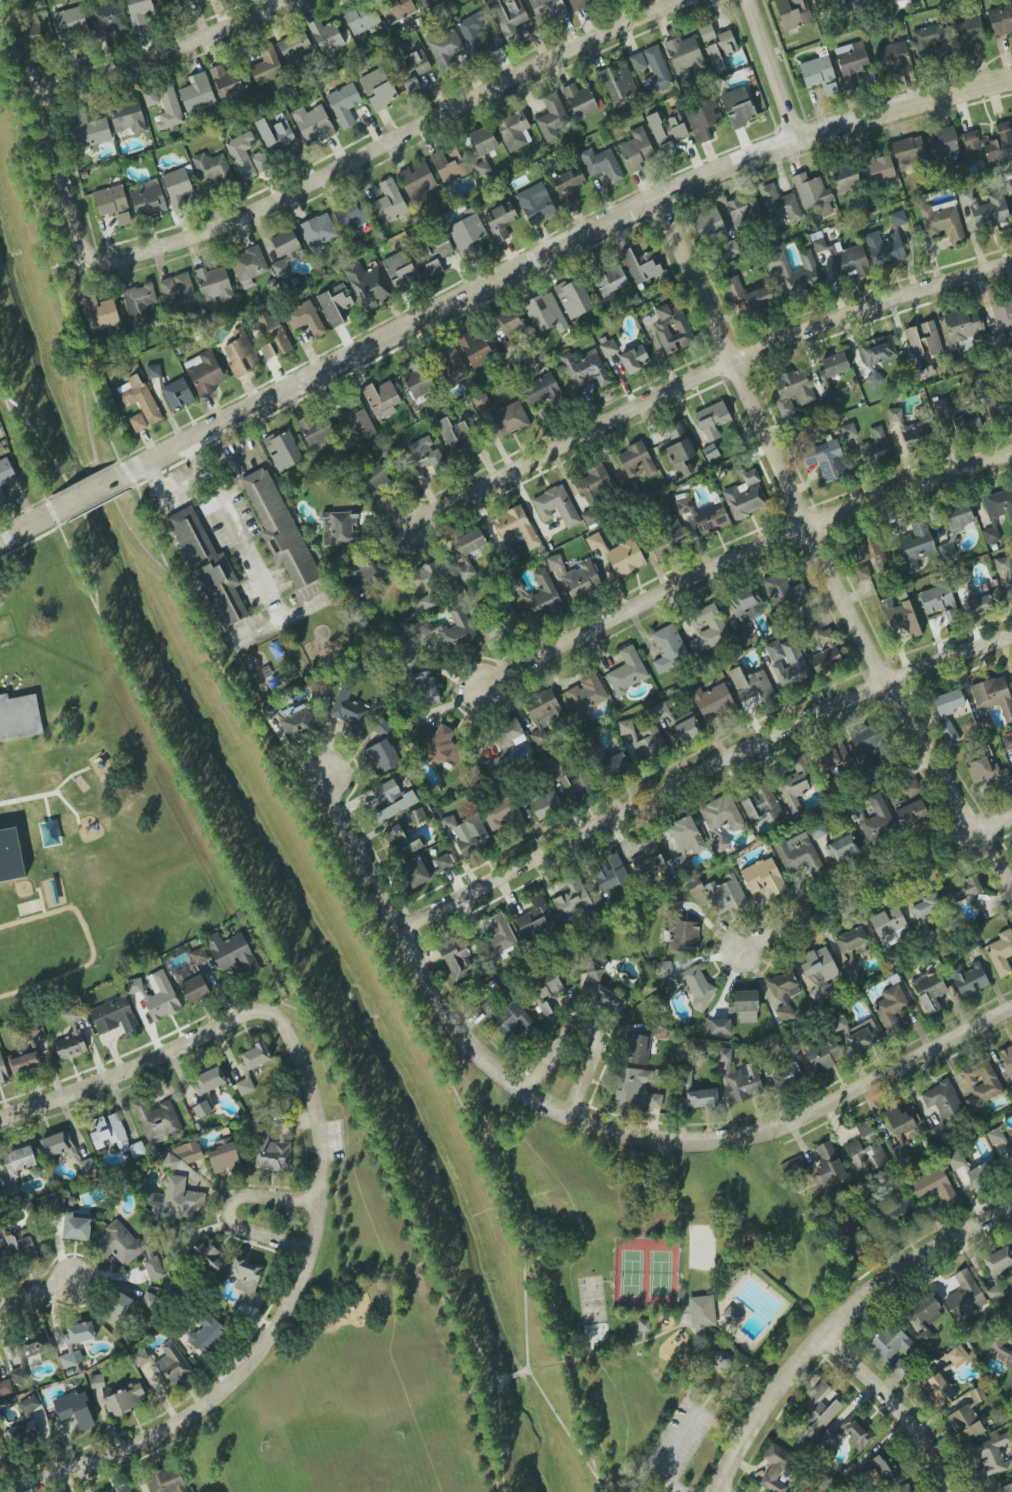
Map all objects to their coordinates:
building: (170, 1)
building: (894, 1)
building: (428, 3)
building: (581, 3)
building: (824, 3)
building: (863, 3)
building: (548, 8)
building: (396, 9)
building: (139, 11)
building: (793, 13)
building: (509, 17)
building: (361, 18)
building: (109, 19)
building: (1000, 20)
building: (69, 24)
building: (706, 33)
building: (967, 34)
building: (325, 36)
building: (477, 36)
building: (926, 39)
building: (28, 40)
road: (180, 46)
building: (295, 47)
building: (446, 51)
building: (721, 51)
building: (684, 56)
building: (892, 58)
building: (638, 62)
building: (853, 62)
building: (267, 66)
building: (413, 68)
road: (770, 70)
building: (656, 71)
building: (819, 74)
building: (226, 82)
building: (618, 82)
road: (9, 84)
building: (378, 89)
building: (197, 94)
building: (150, 97)
building: (579, 101)
building: (344, 104)
building: (737, 107)
building: (168, 110)
building: (128, 117)
building: (552, 117)
building: (702, 119)
building: (312, 124)
building: (88, 129)
building: (514, 131)
building: (666, 131)
building: (275, 134)
building: (483, 140)
building: (970, 140)
building: (943, 144)
building: (999, 145)
building: (636, 150)
building: (908, 150)
building: (242, 155)
building: (261, 162)
building: (449, 164)
building: (602, 164)
building: (876, 167)
building: (213, 168)
building: (482, 168)
building: (845, 177)
building: (417, 182)
building: (568, 185)
road: (307, 186)
building: (179, 187)
building: (812, 193)
road: (36, 197)
building: (148, 200)
building: (113, 203)
building: (389, 203)
building: (535, 204)
building: (779, 204)
building: (986, 208)
building: (742, 211)
building: (351, 215)
building: (500, 221)
building: (708, 222)
building: (942, 223)
building: (317, 231)
building: (467, 234)
building: (887, 244)
building: (819, 245)
building: (731, 247)
building: (285, 253)
road: (554, 253)
building: (436, 256)
building: (850, 262)
building: (640, 265)
building: (248, 266)
building: (401, 272)
building: (796, 273)
building: (608, 278)
building: (213, 285)
building: (367, 285)
building: (181, 292)
building: (747, 294)
building: (573, 297)
building: (139, 302)
building: (335, 304)
building: (99, 313)
building: (545, 313)
building: (1002, 315)
building: (305, 318)
building: (510, 323)
building: (963, 325)
building: (682, 327)
building: (272, 333)
building: (923, 339)
building: (475, 348)
building: (608, 348)
building: (267, 351)
building: (241, 353)
building: (957, 354)
building: (876, 356)
building: (634, 359)
building: (450, 363)
building: (834, 364)
building: (586, 368)
building: (153, 371)
building: (204, 373)
road: (702, 375)
building: (418, 379)
road: (88, 381)
building: (979, 381)
building: (542, 390)
building: (791, 391)
building: (177, 394)
building: (140, 398)
building: (381, 399)
building: (480, 401)
building: (999, 406)
building: (894, 414)
building: (712, 417)
building: (511, 418)
building: (138, 422)
building: (966, 422)
building: (354, 423)
building: (316, 430)
building: (848, 431)
building: (916, 435)
building: (875, 447)
building: (283, 450)
building: (679, 450)
building: (423, 453)
building: (710, 453)
building: (636, 460)
building: (825, 460)
road: (101, 474)
building: (5, 477)
building: (373, 478)
road: (194, 482)
building: (593, 484)
road: (88, 493)
building: (745, 496)
road: (77, 507)
building: (556, 507)
road: (532, 512)
building: (997, 512)
building: (703, 516)
building: (957, 517)
road: (29, 523)
building: (279, 527)
building: (515, 527)
building: (342, 529)
road: (234, 531)
building: (668, 536)
building: (915, 546)
road: (819, 551)
building: (869, 551)
building: (947, 551)
building: (619, 554)
road: (739, 556)
building: (1001, 564)
building: (209, 569)
building: (367, 569)
building: (862, 573)
building: (577, 577)
building: (434, 581)
building: (1010, 586)
building: (783, 592)
building: (535, 596)
building: (936, 599)
building: (982, 600)
building: (743, 611)
building: (902, 617)
road: (280, 620)
building: (498, 625)
building: (707, 629)
building: (450, 631)
road: (199, 637)
building: (669, 649)
building: (826, 654)
building: (787, 662)
building: (627, 671)
road: (137, 681)
building: (752, 684)
building: (426, 687)
building: (585, 696)
building: (993, 696)
building: (712, 701)
building: (948, 702)
building: (269, 711)
building: (348, 711)
building: (543, 714)
building: (19, 718)
building: (298, 723)
building: (679, 723)
building: (509, 733)
building: (948, 733)
building: (866, 737)
building: (643, 740)
building: (1007, 743)
building: (444, 746)
building: (383, 755)
building: (832, 756)
building: (494, 765)
building: (614, 765)
road: (701, 772)
building: (988, 773)
building: (796, 785)
building: (578, 787)
building: (912, 788)
building: (392, 800)
building: (545, 805)
building: (763, 806)
building: (721, 814)
building: (911, 814)
building: (503, 815)
building: (878, 820)
building: (467, 834)
building: (686, 836)
building: (401, 842)
building: (720, 844)
building: (842, 848)
building: (798, 853)
building: (10, 858)
building: (647, 858)
building: (444, 862)
building: (417, 871)
building: (610, 873)
building: (763, 877)
road: (875, 883)
building: (694, 886)
building: (961, 890)
building: (725, 895)
building: (572, 902)
building: (926, 905)
building: (534, 917)
building: (890, 926)
building: (683, 935)
building: (851, 940)
road: (88, 944)
road: (373, 944)
building: (232, 953)
building: (1001, 953)
building: (458, 960)
road: (402, 966)
building: (819, 967)
building: (594, 971)
building: (193, 978)
building: (969, 979)
building: (691, 983)
building: (929, 991)
building: (547, 992)
building: (156, 995)
building: (782, 995)
building: (608, 1000)
building: (746, 1001)
building: (891, 1007)
road: (289, 1013)
building: (115, 1017)
building: (507, 1017)
building: (720, 1027)
road: (586, 1030)
building: (855, 1034)
building: (71, 1037)
building: (27, 1054)
building: (722, 1054)
building: (826, 1054)
building: (1007, 1058)
building: (251, 1065)
road: (332, 1065)
building: (3, 1071)
building: (683, 1075)
building: (786, 1075)
building: (209, 1080)
building: (743, 1083)
building: (981, 1083)
building: (630, 1084)
road: (89, 1085)
building: (702, 1098)
building: (654, 1101)
building: (202, 1109)
building: (157, 1121)
road: (588, 1124)
building: (901, 1128)
building: (109, 1132)
parking lot: (329, 1140)
building: (59, 1144)
building: (1001, 1147)
building: (865, 1148)
building: (136, 1150)
building: (272, 1153)
building: (205, 1156)
road: (344, 1160)
building: (19, 1161)
building: (956, 1161)
building: (795, 1165)
building: (86, 1166)
building: (828, 1166)
building: (980, 1176)
building: (934, 1186)
building: (176, 1199)
road: (335, 1205)
road: (226, 1209)
building: (898, 1212)
road: (516, 1225)
building: (76, 1227)
building: (17, 1244)
park: (700, 1246)
building: (128, 1248)
building: (850, 1248)
building: (207, 1256)
building: (998, 1260)
park: (644, 1270)
road: (385, 1274)
road: (300, 1276)
building: (246, 1280)
park: (657, 1285)
road: (39, 1294)
building: (965, 1296)
park: (590, 1298)
road: (682, 1301)
building: (126, 1306)
building: (926, 1310)
building: (702, 1312)
building: (731, 1316)
road: (446, 1319)
road: (839, 1325)
road: (662, 1333)
building: (207, 1335)
building: (925, 1337)
building: (76, 1342)
building: (890, 1343)
building: (1001, 1354)
building: (957, 1356)
building: (720, 1361)
park: (359, 1362)
building: (165, 1363)
road: (526, 1369)
building: (899, 1369)
road: (510, 1374)
road: (492, 1375)
road: (754, 1376)
road: (722, 1378)
building: (5, 1388)
building: (939, 1389)
building: (123, 1400)
building: (29, 1404)
building: (819, 1408)
road: (895, 1408)
building: (75, 1409)
building: (968, 1416)
road: (581, 1426)
building: (857, 1432)
building: (23, 1433)
road: (681, 1433)
building: (830, 1439)
parking lot: (675, 1442)
building: (991, 1455)
building: (0, 1458)
building: (885, 1467)
building: (775, 1468)
building: (166, 1480)
building: (1006, 1488)
building: (121, 1489)
building: (902, 1489)
building: (815, 1490)

